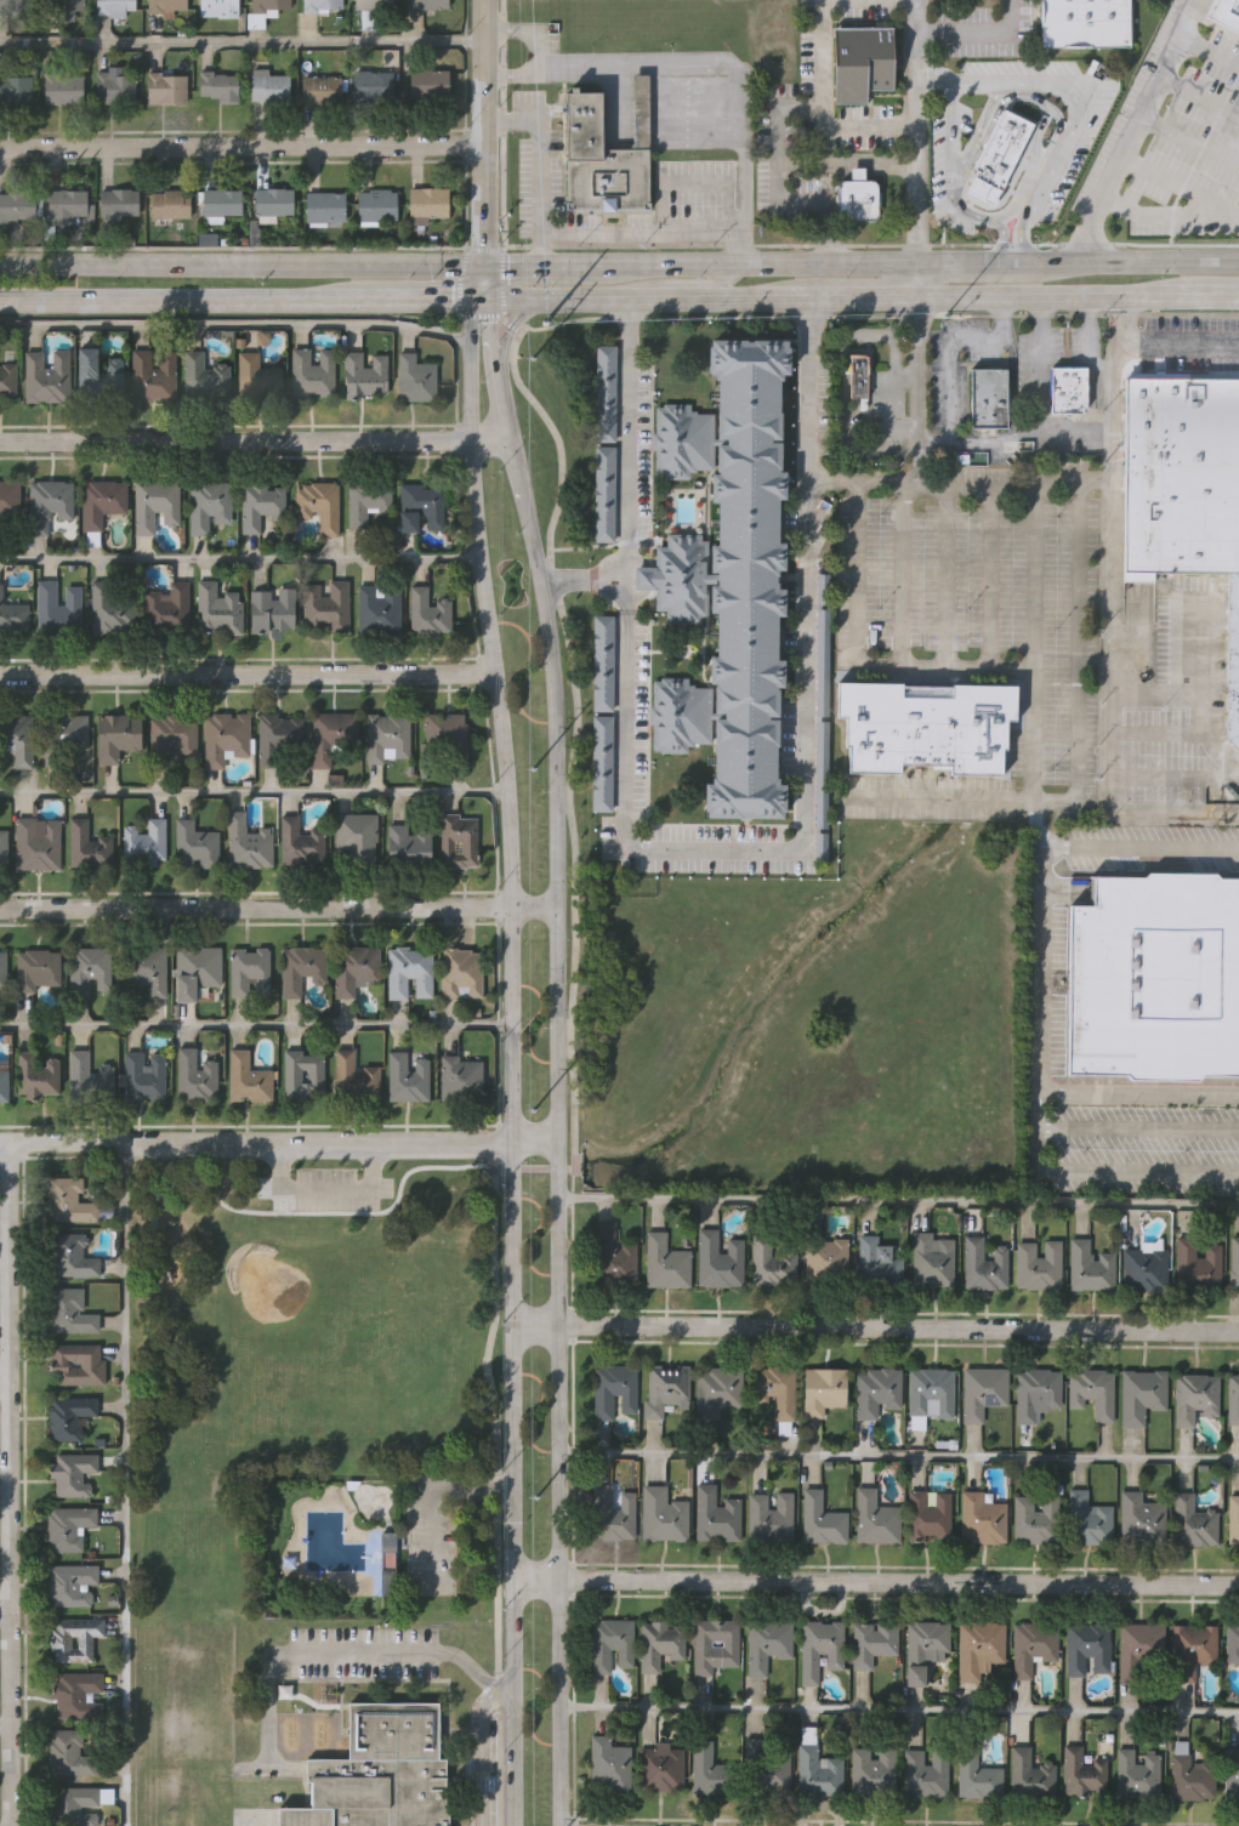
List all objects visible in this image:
building: (427, 4)
building: (63, 5)
building: (166, 5)
building: (320, 5)
building: (114, 6)
building: (16, 7)
building: (217, 7)
building: (265, 8)
building: (369, 11)
building: (1224, 12)
road: (530, 18)
building: (1085, 23)
road: (974, 30)
road: (243, 42)
road: (1207, 47)
road: (1164, 55)
road: (718, 59)
road: (511, 61)
building: (860, 62)
road: (931, 78)
road: (981, 81)
building: (427, 84)
building: (113, 85)
building: (268, 85)
building: (373, 85)
building: (217, 86)
building: (62, 87)
building: (166, 87)
building: (16, 89)
building: (320, 89)
road: (1195, 97)
building: (638, 109)
road: (775, 118)
road: (868, 123)
road: (501, 124)
road: (483, 131)
road: (914, 131)
road: (1123, 136)
road: (241, 146)
building: (1237, 146)
building: (1000, 155)
road: (845, 160)
building: (598, 161)
building: (858, 198)
building: (221, 200)
building: (273, 200)
building: (116, 201)
building: (169, 203)
building: (68, 204)
building: (376, 204)
building: (427, 204)
building: (17, 206)
building: (324, 206)
road: (1156, 231)
road: (558, 232)
road: (1021, 237)
road: (1001, 239)
road: (540, 243)
road: (869, 245)
road: (483, 249)
road: (737, 249)
road: (1136, 261)
road: (189, 262)
road: (783, 262)
road: (871, 262)
road: (973, 262)
road: (430, 263)
traffic signals: (482, 263)
road: (511, 263)
road: (569, 263)
road: (667, 263)
road: (915, 280)
road: (456, 281)
road: (481, 281)
road: (502, 281)
road: (686, 281)
road: (171, 297)
road: (1211, 297)
road: (411, 298)
road: (636, 298)
road: (854, 298)
road: (1050, 298)
traffic signals: (481, 300)
road: (479, 314)
road: (877, 315)
road: (508, 326)
road: (233, 329)
road: (915, 339)
road: (846, 340)
road: (1156, 342)
building: (97, 371)
building: (311, 371)
building: (364, 372)
building: (152, 374)
building: (45, 375)
building: (203, 376)
building: (257, 376)
building: (414, 376)
building: (858, 376)
building: (7, 380)
road: (905, 381)
building: (1065, 389)
building: (604, 392)
building: (989, 396)
road: (915, 398)
road: (896, 408)
road: (1118, 410)
road: (811, 415)
road: (1063, 423)
road: (948, 431)
road: (248, 442)
road: (914, 448)
road: (880, 449)
road: (626, 455)
building: (1181, 477)
road: (862, 480)
road: (809, 490)
building: (606, 493)
building: (100, 500)
building: (8, 501)
building: (47, 502)
building: (368, 502)
building: (153, 504)
building: (208, 504)
building: (260, 504)
building: (318, 504)
building: (420, 506)
road: (241, 559)
road: (904, 571)
road: (943, 571)
road: (985, 571)
road: (1033, 571)
road: (1079, 571)
building: (726, 578)
road: (584, 582)
road: (542, 599)
road: (489, 601)
building: (165, 604)
building: (325, 604)
building: (57, 607)
building: (109, 607)
building: (377, 607)
building: (217, 608)
building: (272, 608)
building: (426, 610)
building: (12, 614)
building: (603, 661)
building: (1233, 662)
road: (250, 675)
road: (1194, 694)
road: (1154, 695)
building: (818, 715)
building: (926, 727)
road: (1033, 732)
road: (1159, 733)
building: (116, 734)
building: (326, 734)
building: (223, 735)
building: (171, 736)
building: (275, 736)
building: (386, 736)
building: (443, 736)
building: (64, 738)
building: (18, 739)
building: (603, 762)
road: (1173, 779)
road: (252, 793)
road: (1024, 797)
road: (1108, 803)
building: (354, 836)
building: (143, 840)
building: (456, 840)
building: (246, 841)
building: (409, 841)
building: (36, 842)
building: (194, 842)
building: (300, 842)
road: (772, 844)
building: (86, 846)
building: (2, 847)
road: (533, 906)
road: (256, 909)
building: (143, 967)
building: (300, 967)
building: (353, 967)
building: (2, 968)
building: (36, 968)
building: (89, 969)
building: (194, 969)
building: (249, 969)
building: (408, 971)
building: (460, 972)
building: (1155, 978)
road: (573, 982)
road: (1044, 1005)
road: (256, 1028)
building: (195, 1073)
building: (303, 1073)
building: (36, 1075)
building: (87, 1075)
building: (143, 1075)
building: (353, 1075)
building: (407, 1075)
building: (246, 1077)
building: (460, 1077)
building: (2, 1079)
road: (1142, 1092)
road: (1142, 1127)
road: (277, 1145)
road: (318, 1194)
building: (67, 1200)
road: (897, 1204)
road: (515, 1244)
road: (555, 1244)
building: (613, 1253)
building: (69, 1255)
building: (718, 1259)
building: (932, 1259)
road: (5, 1261)
building: (665, 1261)
building: (826, 1261)
building: (771, 1262)
building: (1198, 1262)
building: (879, 1264)
building: (984, 1264)
building: (1038, 1264)
building: (1234, 1265)
building: (1090, 1267)
building: (1144, 1268)
building: (68, 1310)
road: (876, 1336)
park: (329, 1346)
building: (76, 1364)
road: (5, 1375)
building: (663, 1388)
building: (718, 1388)
building: (613, 1389)
building: (824, 1389)
building: (876, 1390)
building: (983, 1390)
building: (1035, 1392)
building: (1092, 1392)
building: (778, 1393)
building: (930, 1394)
building: (1141, 1395)
building: (1195, 1396)
building: (1233, 1398)
park: (319, 1399)
building: (68, 1415)
road: (897, 1455)
building: (70, 1472)
road: (11, 1484)
road: (115, 1486)
road: (432, 1494)
road: (496, 1494)
road: (5, 1498)
building: (612, 1512)
building: (663, 1514)
building: (716, 1514)
building: (1139, 1514)
building: (928, 1515)
building: (769, 1517)
building: (822, 1518)
building: (876, 1518)
building: (982, 1518)
building: (1036, 1518)
building: (1233, 1519)
building: (1089, 1520)
building: (1193, 1521)
building: (68, 1525)
parking lot: (431, 1535)
building: (387, 1563)
building: (70, 1582)
road: (535, 1582)
road: (897, 1583)
road: (5, 1609)
building: (73, 1637)
building: (873, 1640)
building: (660, 1643)
building: (1232, 1643)
building: (610, 1644)
building: (714, 1644)
building: (766, 1644)
building: (1033, 1645)
building: (923, 1646)
building: (977, 1646)
building: (820, 1648)
building: (1087, 1648)
building: (1192, 1648)
building: (1141, 1651)
road: (354, 1652)
road: (468, 1666)
building: (74, 1691)
road: (513, 1703)
road: (556, 1703)
road: (267, 1707)
road: (898, 1710)
road: (6, 1727)
road: (483, 1746)
building: (64, 1750)
building: (609, 1764)
building: (661, 1765)
building: (375, 1769)
building: (712, 1770)
building: (773, 1770)
building: (819, 1770)
building: (1232, 1770)
building: (873, 1771)
building: (925, 1773)
building: (1029, 1774)
building: (1084, 1774)
building: (1136, 1774)
building: (976, 1776)
building: (1190, 1777)
building: (75, 1804)
road: (584, 1825)

